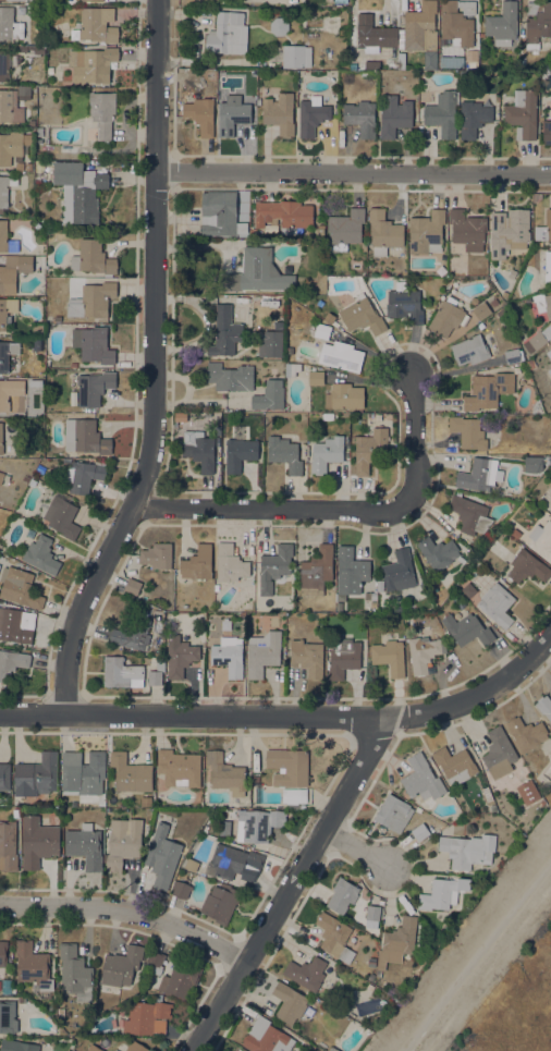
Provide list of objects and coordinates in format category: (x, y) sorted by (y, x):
building: (22, 0)
building: (40, 0)
building: (90, 0)
building: (72, 1)
building: (340, 1)
building: (457, 22)
building: (537, 23)
building: (502, 24)
building: (10, 25)
building: (96, 25)
building: (279, 26)
building: (419, 28)
building: (225, 33)
building: (375, 35)
building: (22, 49)
building: (38, 49)
building: (295, 57)
building: (474, 61)
building: (91, 64)
building: (4, 65)
building: (372, 66)
building: (50, 71)
building: (367, 73)
building: (23, 89)
building: (32, 105)
building: (10, 107)
building: (279, 113)
building: (442, 113)
building: (232, 114)
building: (523, 114)
building: (200, 115)
building: (100, 117)
building: (311, 117)
building: (394, 117)
building: (360, 118)
building: (473, 119)
building: (32, 123)
building: (39, 132)
building: (547, 132)
building: (12, 146)
building: (39, 154)
road: (315, 156)
building: (20, 167)
building: (28, 167)
road: (171, 172)
road: (354, 174)
building: (5, 188)
building: (78, 191)
building: (222, 215)
building: (284, 215)
building: (546, 228)
building: (345, 230)
building: (467, 230)
building: (384, 232)
building: (510, 232)
building: (426, 233)
building: (7, 240)
building: (364, 247)
building: (94, 258)
building: (516, 261)
building: (543, 267)
building: (16, 270)
building: (252, 271)
building: (441, 271)
building: (91, 301)
building: (493, 303)
building: (404, 304)
building: (548, 306)
building: (481, 310)
building: (501, 313)
building: (3, 314)
building: (362, 317)
building: (448, 317)
building: (321, 331)
building: (224, 332)
building: (538, 340)
building: (271, 342)
building: (94, 344)
building: (469, 350)
building: (290, 351)
building: (7, 354)
building: (549, 354)
building: (341, 356)
building: (512, 356)
building: (530, 364)
road: (155, 367)
building: (292, 368)
road: (437, 369)
building: (549, 370)
building: (230, 377)
building: (316, 378)
road: (135, 379)
building: (35, 382)
building: (94, 388)
building: (488, 390)
building: (9, 391)
building: (269, 396)
building: (344, 396)
building: (38, 412)
building: (213, 416)
building: (180, 417)
building: (468, 432)
building: (85, 437)
building: (1, 439)
building: (199, 449)
building: (240, 450)
building: (368, 450)
building: (327, 453)
building: (284, 454)
building: (534, 464)
building: (478, 475)
building: (82, 476)
building: (1, 477)
building: (25, 478)
building: (32, 481)
road: (149, 504)
road: (343, 510)
building: (469, 514)
building: (62, 517)
building: (541, 540)
building: (439, 552)
building: (41, 555)
building: (156, 555)
building: (197, 563)
building: (230, 563)
building: (274, 566)
building: (526, 566)
building: (317, 571)
building: (351, 571)
building: (399, 571)
building: (133, 586)
building: (380, 586)
building: (20, 587)
building: (468, 589)
building: (372, 596)
building: (497, 604)
building: (225, 624)
building: (16, 626)
building: (467, 630)
building: (133, 634)
building: (424, 652)
building: (262, 653)
building: (180, 656)
building: (229, 656)
building: (308, 657)
building: (390, 657)
building: (343, 658)
building: (11, 662)
building: (122, 673)
building: (156, 673)
road: (442, 686)
road: (356, 691)
road: (274, 693)
road: (295, 693)
road: (196, 695)
road: (216, 695)
road: (65, 697)
road: (397, 698)
road: (155, 700)
building: (544, 706)
road: (193, 717)
road: (399, 724)
road: (354, 728)
road: (449, 730)
road: (158, 732)
road: (375, 734)
building: (526, 734)
road: (254, 735)
road: (144, 736)
road: (238, 738)
building: (499, 753)
road: (389, 757)
building: (528, 761)
building: (455, 765)
building: (289, 767)
building: (179, 768)
building: (532, 768)
building: (83, 773)
building: (131, 773)
building: (37, 774)
building: (225, 774)
building: (4, 777)
building: (256, 779)
building: (421, 779)
building: (528, 792)
road: (322, 794)
building: (487, 794)
building: (294, 796)
road: (340, 801)
road: (321, 802)
building: (493, 808)
building: (15, 812)
building: (393, 812)
building: (250, 826)
building: (420, 832)
road: (338, 839)
building: (38, 841)
building: (123, 842)
building: (84, 845)
building: (8, 846)
road: (292, 847)
road: (355, 850)
building: (466, 850)
road: (399, 852)
building: (162, 856)
road: (414, 859)
building: (234, 863)
road: (416, 864)
building: (192, 865)
road: (407, 878)
road: (52, 884)
road: (69, 884)
road: (378, 885)
road: (131, 890)
building: (182, 890)
road: (271, 890)
road: (142, 893)
building: (442, 893)
building: (342, 895)
road: (390, 896)
building: (220, 905)
road: (172, 911)
road: (127, 912)
building: (372, 912)
road: (294, 926)
road: (46, 927)
road: (113, 929)
road: (88, 931)
road: (163, 937)
building: (334, 937)
road: (159, 939)
building: (400, 939)
park: (540, 939)
road: (284, 942)
road: (473, 951)
building: (3, 953)
road: (231, 954)
building: (154, 962)
building: (33, 966)
building: (122, 966)
building: (306, 973)
building: (75, 974)
building: (181, 979)
building: (369, 987)
road: (250, 995)
building: (159, 998)
building: (22, 1000)
building: (289, 1003)
road: (534, 1004)
building: (170, 1005)
road: (237, 1010)
building: (169, 1016)
building: (8, 1017)
building: (145, 1017)
building: (94, 1019)
building: (159, 1026)
building: (125, 1027)
road: (177, 1034)
building: (266, 1037)
road: (511, 1039)
building: (17, 1046)
building: (135, 1047)
building: (93, 1048)
building: (332, 1049)
building: (115, 1050)
building: (234, 1050)

